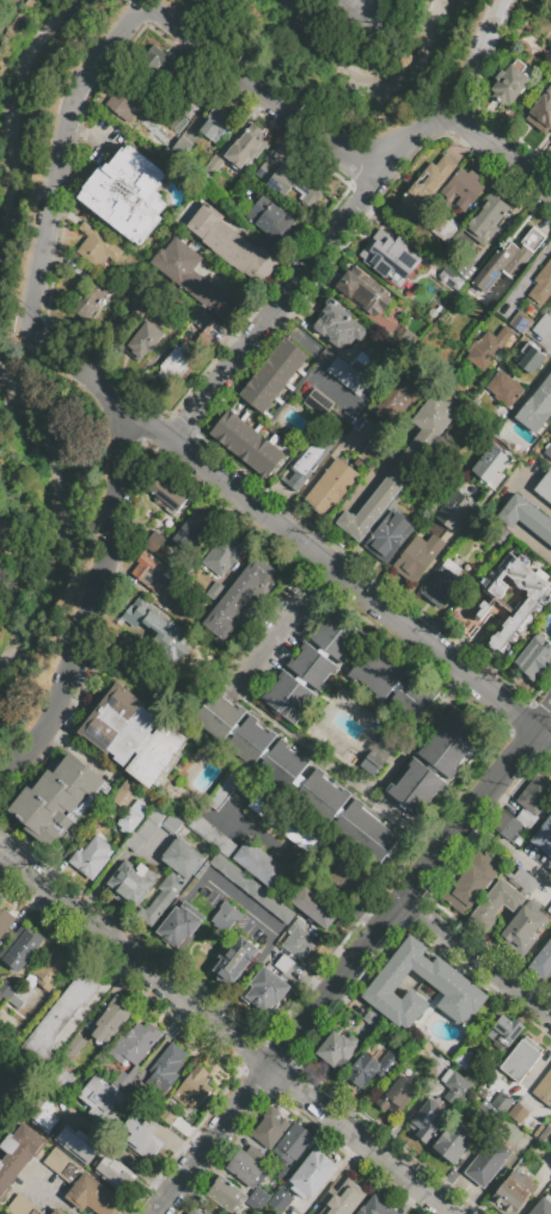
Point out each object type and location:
road: (360, 1)
road: (142, 7)
road: (479, 56)
park: (350, 59)
building: (158, 61)
building: (509, 85)
road: (257, 86)
building: (194, 90)
building: (124, 103)
building: (540, 114)
building: (215, 127)
building: (182, 146)
building: (247, 147)
road: (504, 151)
building: (212, 167)
building: (265, 171)
building: (296, 185)
building: (426, 186)
building: (463, 188)
building: (127, 194)
road: (44, 216)
building: (265, 216)
building: (485, 217)
building: (231, 245)
building: (353, 245)
building: (97, 246)
road: (312, 256)
building: (391, 258)
building: (508, 259)
building: (466, 270)
road: (525, 276)
building: (452, 280)
building: (194, 281)
building: (434, 284)
building: (541, 284)
building: (96, 290)
building: (365, 293)
building: (550, 299)
building: (550, 300)
building: (202, 320)
building: (127, 321)
building: (520, 323)
building: (338, 325)
building: (543, 326)
building: (142, 342)
building: (204, 342)
building: (486, 347)
building: (290, 354)
road: (314, 358)
building: (529, 358)
building: (176, 362)
building: (275, 373)
building: (350, 375)
building: (504, 390)
building: (257, 396)
building: (397, 399)
building: (318, 401)
building: (537, 407)
road: (121, 422)
building: (226, 429)
road: (176, 433)
building: (245, 443)
building: (368, 452)
building: (547, 455)
building: (268, 460)
building: (491, 464)
building: (400, 465)
building: (302, 472)
building: (544, 488)
building: (329, 490)
building: (166, 496)
road: (349, 497)
road: (531, 498)
building: (451, 513)
building: (525, 517)
building: (190, 531)
building: (502, 537)
building: (388, 538)
building: (154, 541)
road: (535, 546)
building: (417, 557)
building: (221, 559)
building: (451, 566)
road: (428, 570)
building: (153, 572)
road: (333, 574)
building: (441, 587)
building: (216, 590)
building: (241, 596)
building: (537, 601)
building: (143, 614)
road: (85, 621)
road: (281, 630)
building: (336, 637)
park: (29, 643)
building: (131, 658)
building: (534, 658)
building: (312, 667)
building: (375, 673)
building: (288, 698)
building: (412, 698)
building: (218, 717)
building: (135, 736)
building: (250, 742)
road: (299, 742)
building: (452, 742)
building: (386, 746)
building: (380, 752)
building: (281, 766)
building: (369, 767)
building: (122, 792)
building: (535, 796)
building: (322, 798)
building: (56, 801)
building: (267, 811)
building: (386, 813)
building: (129, 818)
building: (172, 823)
building: (513, 823)
building: (146, 829)
building: (543, 836)
building: (302, 839)
road: (509, 852)
building: (91, 857)
building: (261, 864)
road: (296, 866)
building: (483, 869)
building: (347, 877)
building: (171, 878)
building: (129, 883)
building: (252, 888)
building: (463, 893)
building: (502, 897)
building: (316, 906)
building: (550, 909)
building: (225, 918)
building: (5, 921)
building: (179, 925)
building: (299, 928)
building: (524, 928)
building: (296, 945)
building: (19, 949)
building: (411, 957)
building: (234, 959)
road: (477, 959)
building: (543, 961)
building: (284, 963)
road: (351, 963)
building: (49, 969)
building: (273, 982)
building: (6, 988)
building: (454, 991)
building: (76, 995)
building: (261, 997)
building: (393, 998)
building: (110, 1019)
building: (507, 1028)
road: (225, 1036)
building: (43, 1037)
building: (135, 1043)
building: (73, 1048)
building: (336, 1049)
building: (521, 1057)
building: (465, 1059)
building: (165, 1067)
building: (372, 1068)
building: (447, 1077)
building: (192, 1087)
building: (545, 1087)
building: (457, 1091)
building: (105, 1093)
building: (397, 1093)
building: (502, 1104)
building: (41, 1114)
building: (169, 1116)
building: (519, 1116)
building: (428, 1120)
building: (270, 1128)
building: (57, 1134)
building: (545, 1135)
building: (143, 1138)
building: (455, 1140)
building: (293, 1145)
building: (17, 1154)
building: (540, 1160)
building: (488, 1161)
building: (62, 1165)
building: (245, 1167)
building: (112, 1170)
building: (313, 1172)
building: (550, 1189)
building: (513, 1192)
building: (93, 1196)
building: (227, 1196)
road: (50, 1198)
building: (342, 1198)
building: (277, 1200)
building: (19, 1206)
building: (543, 1206)
building: (375, 1207)
building: (57, 1210)
building: (190, 1212)
building: (206, 1212)

